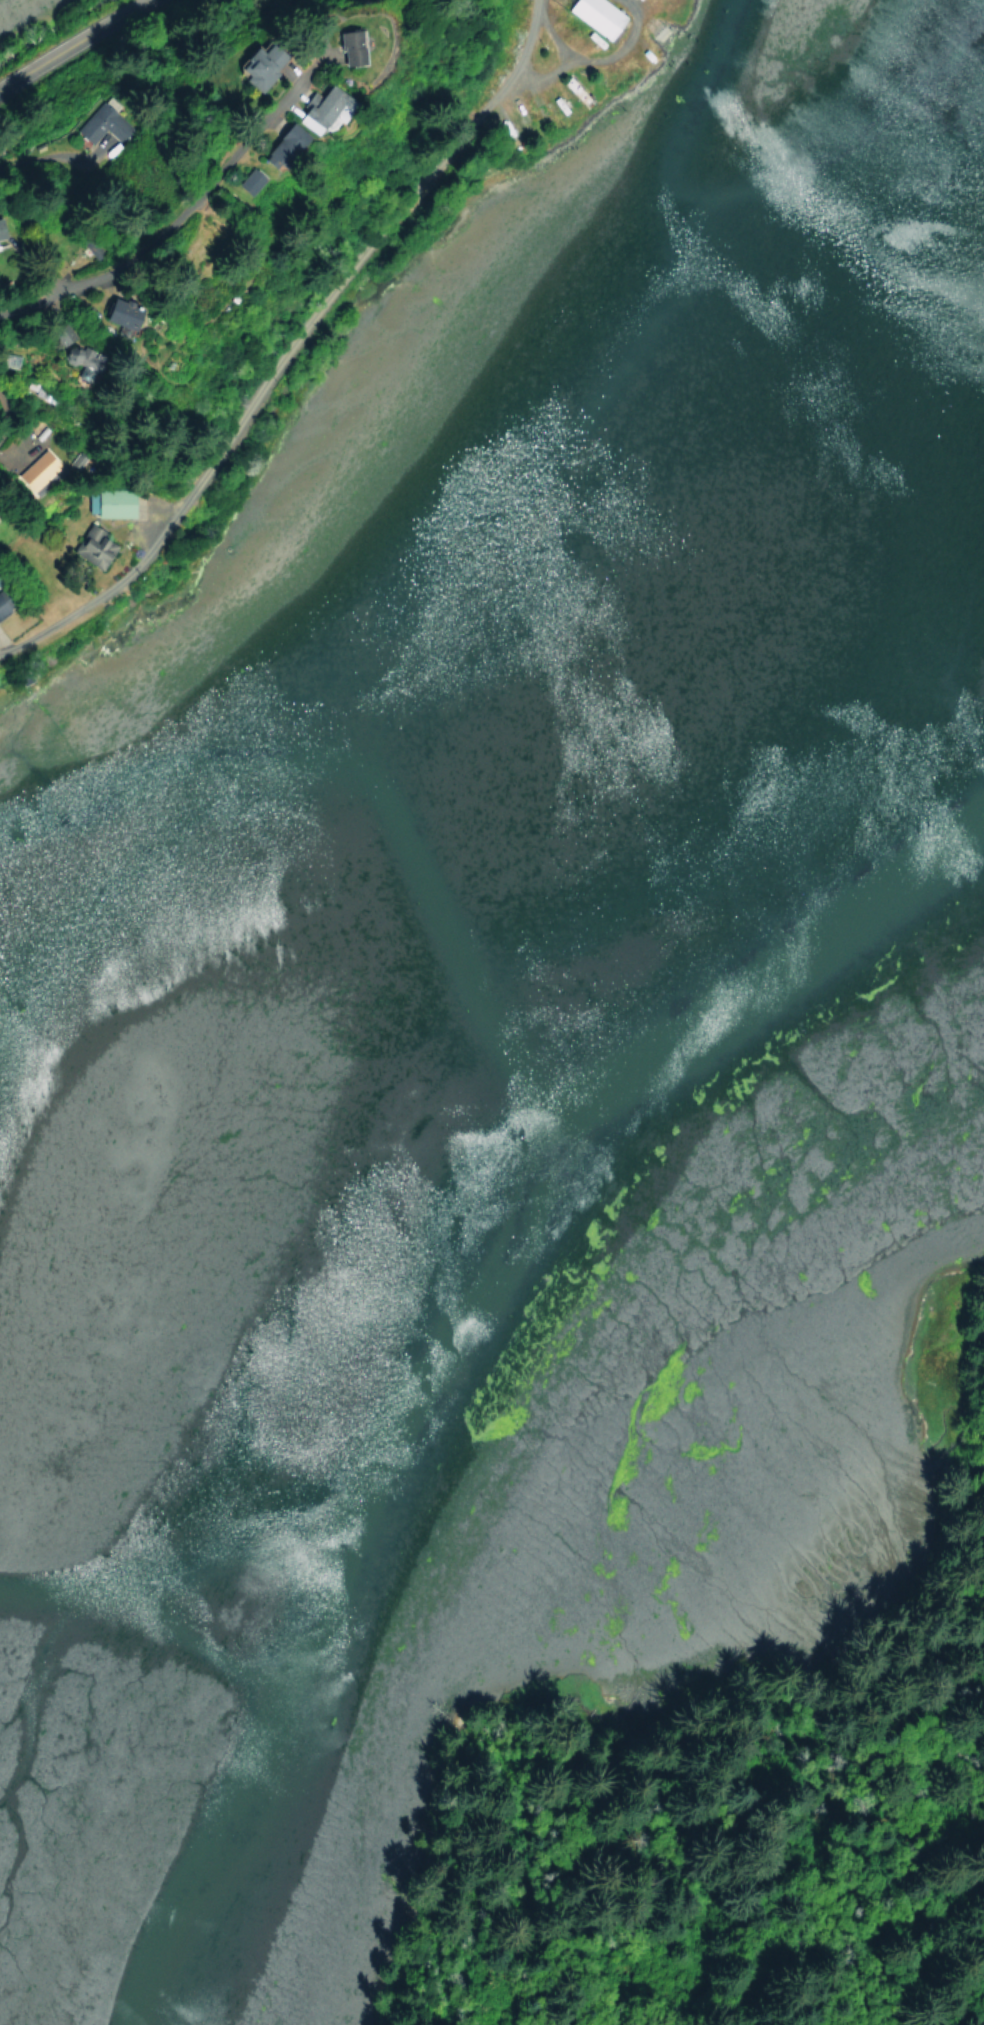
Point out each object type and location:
building: (596, 15)
road: (62, 40)
building: (344, 44)
road: (620, 51)
building: (260, 64)
road: (516, 65)
road: (557, 67)
building: (573, 90)
building: (317, 106)
building: (283, 142)
building: (245, 181)
road: (175, 214)
building: (0, 236)
building: (117, 314)
road: (253, 404)
road: (5, 416)
building: (36, 469)
building: (112, 504)
building: (91, 547)
building: (3, 603)

